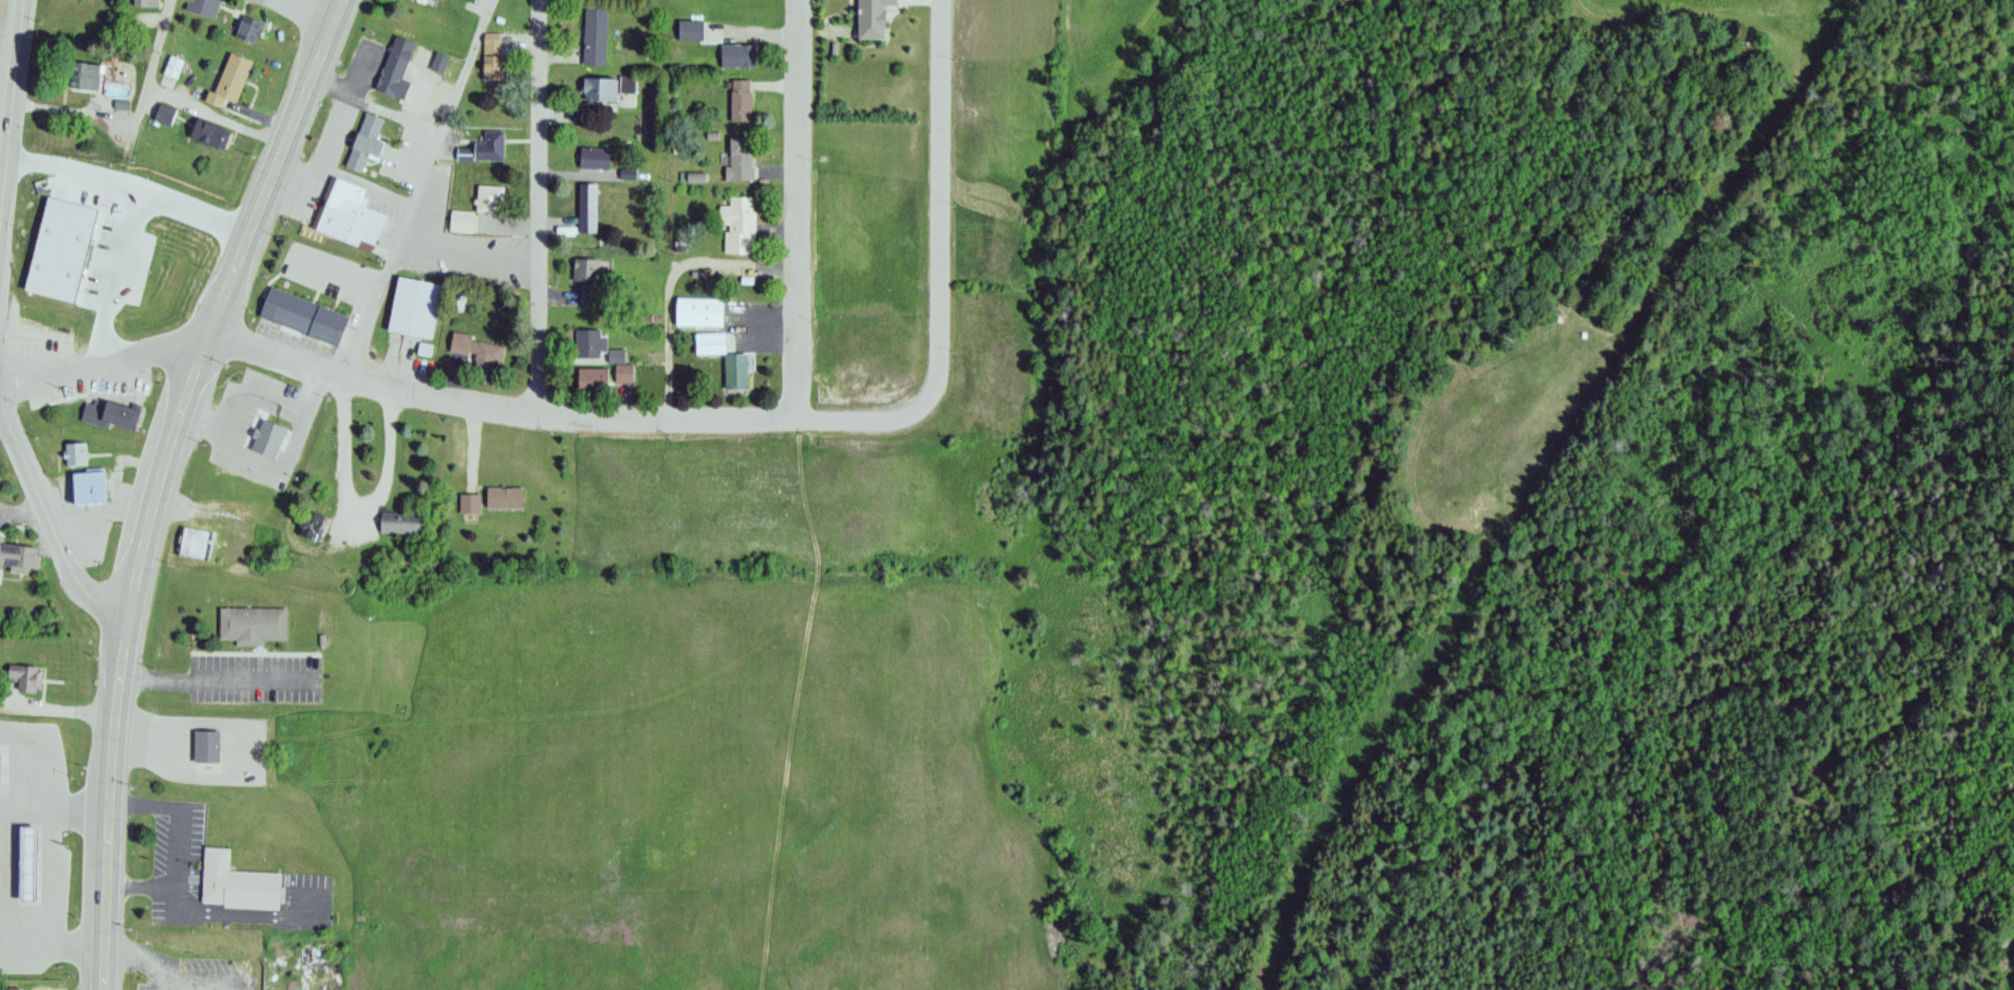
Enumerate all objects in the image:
building: (420, 1)
building: (143, 2)
building: (200, 5)
road: (306, 10)
building: (872, 15)
building: (246, 24)
building: (687, 26)
building: (593, 32)
building: (490, 51)
building: (735, 51)
building: (437, 57)
building: (171, 64)
building: (394, 64)
building: (81, 71)
building: (228, 78)
building: (599, 83)
building: (738, 96)
road: (372, 104)
building: (161, 112)
road: (215, 116)
road: (9, 128)
building: (206, 129)
building: (363, 139)
building: (488, 142)
building: (677, 143)
building: (462, 150)
building: (593, 154)
building: (738, 154)
building: (626, 170)
building: (689, 173)
building: (143, 174)
road: (123, 184)
road: (415, 187)
building: (585, 189)
building: (47, 192)
building: (487, 195)
road: (941, 196)
building: (97, 197)
building: (189, 197)
road: (536, 208)
road: (793, 209)
building: (349, 211)
road: (185, 216)
building: (460, 218)
building: (737, 222)
building: (677, 242)
road: (333, 269)
building: (585, 275)
road: (664, 282)
building: (47, 300)
building: (413, 303)
building: (698, 306)
building: (302, 312)
building: (708, 338)
building: (587, 339)
building: (473, 346)
building: (422, 348)
building: (613, 352)
building: (734, 367)
building: (621, 371)
building: (590, 376)
road: (1, 394)
road: (461, 401)
building: (109, 410)
building: (73, 449)
building: (89, 480)
road: (160, 481)
building: (502, 494)
building: (466, 500)
building: (273, 502)
building: (404, 514)
building: (308, 520)
road: (49, 521)
building: (193, 541)
building: (18, 552)
building: (249, 620)
building: (22, 673)
road: (216, 680)
building: (205, 741)
road: (0, 801)
road: (17, 804)
road: (52, 819)
building: (28, 857)
gas station: (28, 857)
building: (234, 880)
road: (50, 944)
road: (165, 974)
road: (155, 980)

